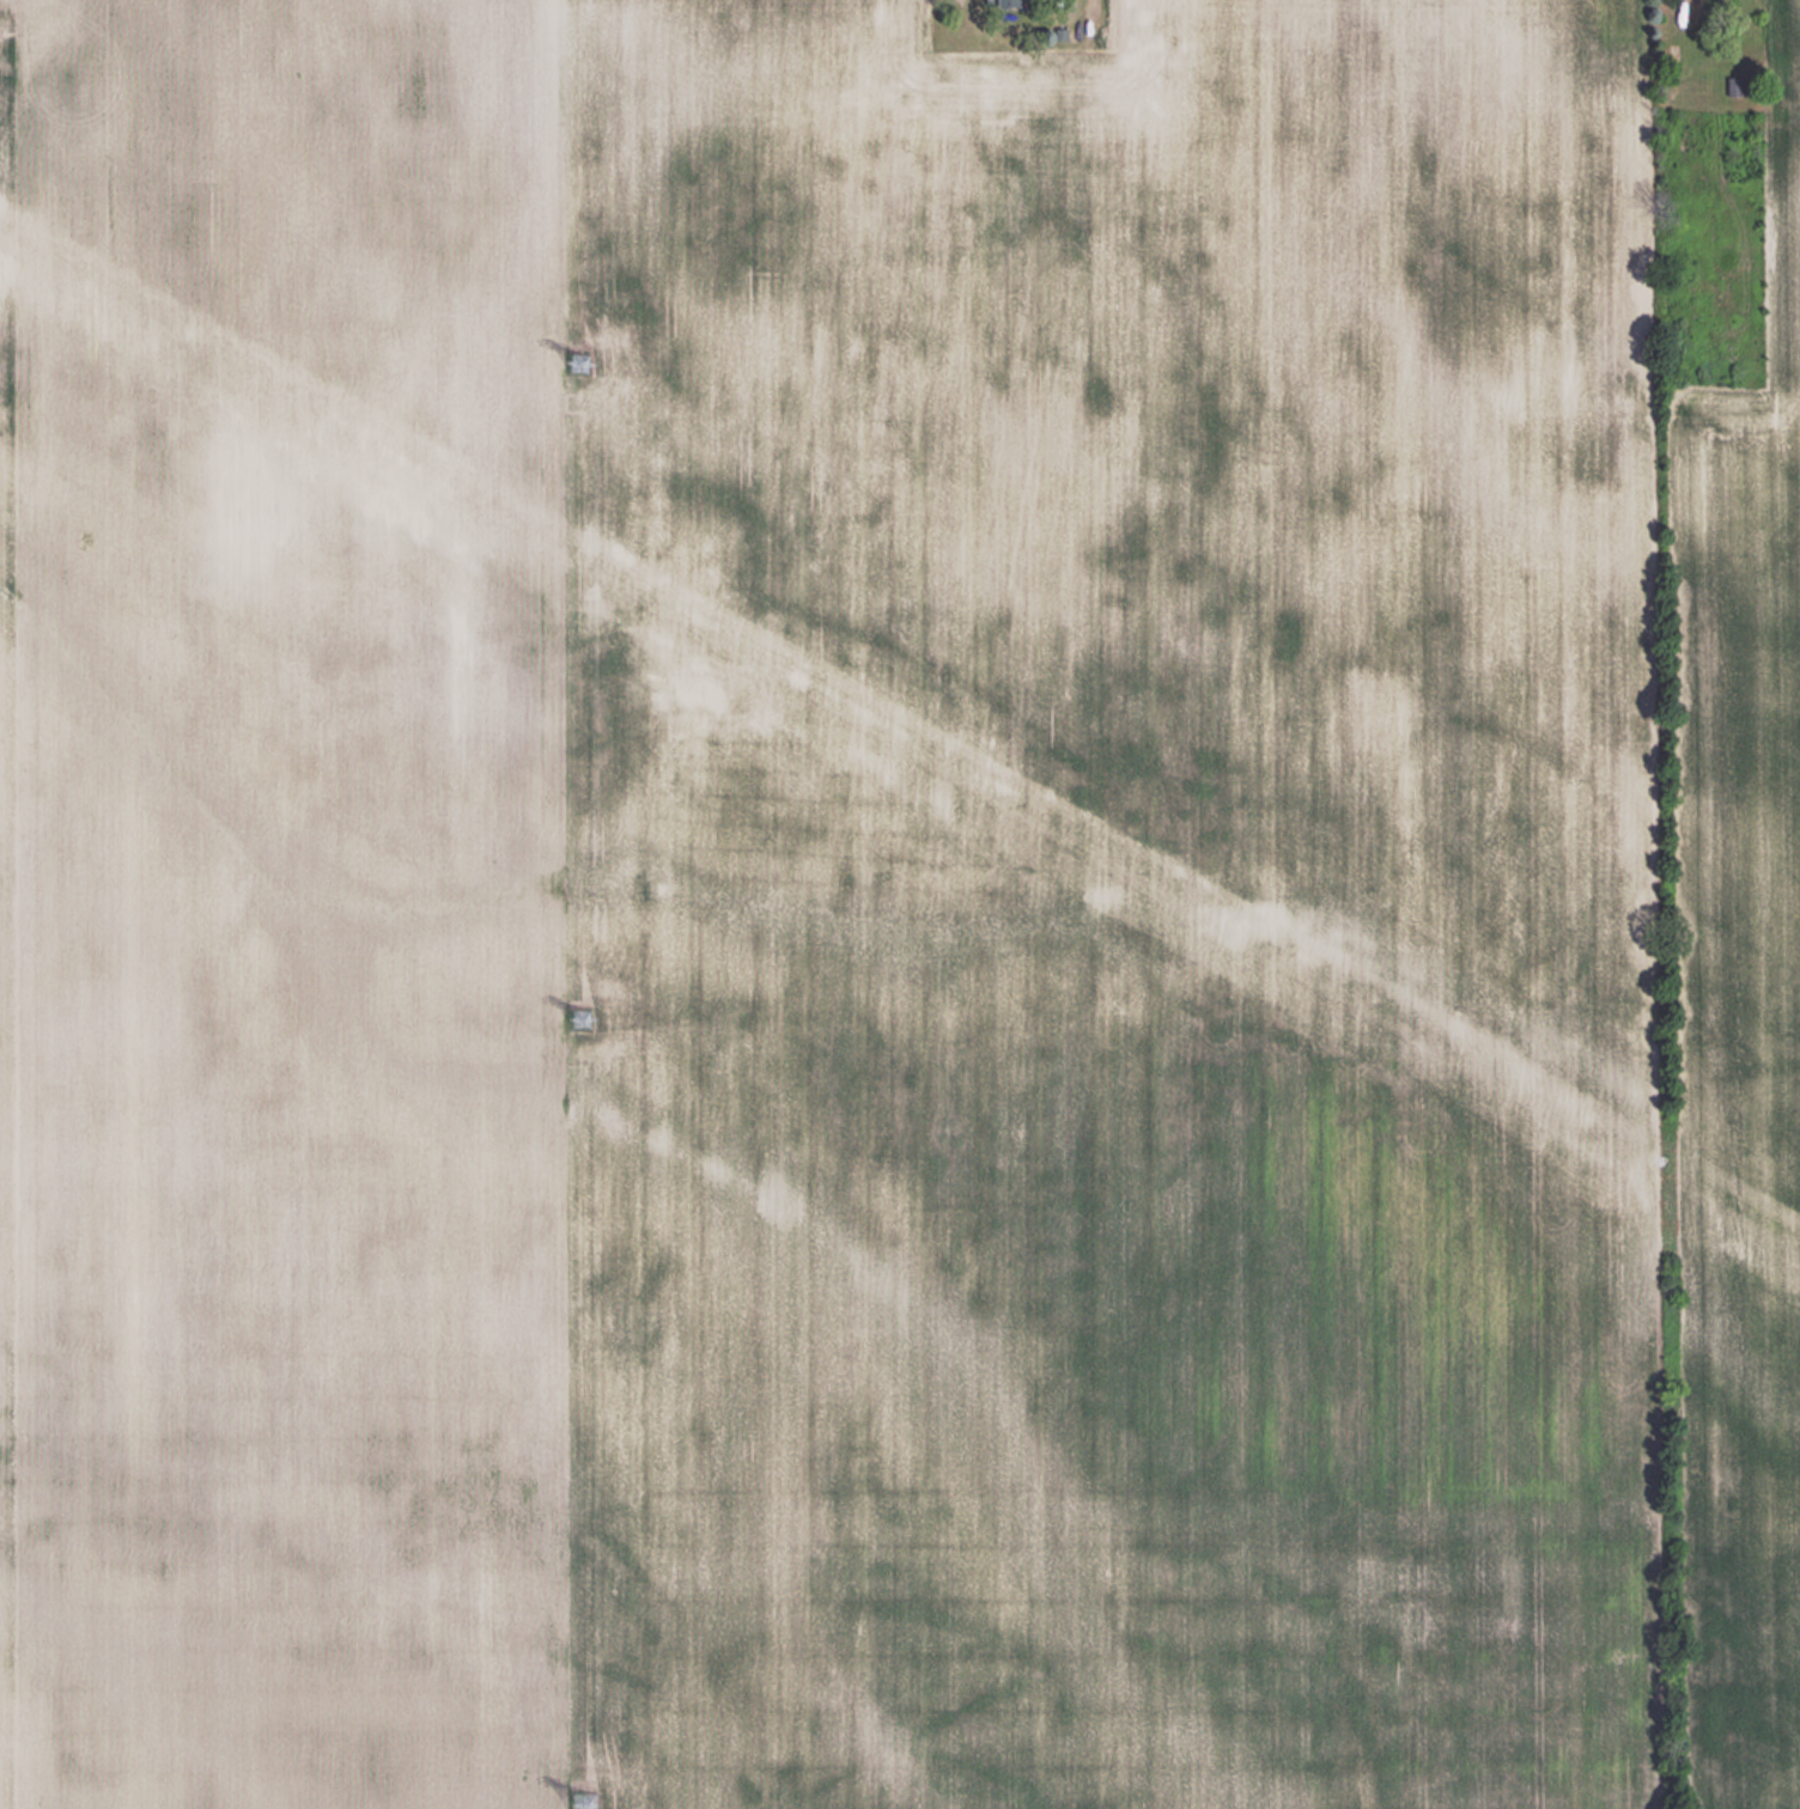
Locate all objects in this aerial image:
building: (1007, 4)
building: (1733, 87)
power tower: (585, 365)
power tower: (573, 1018)

